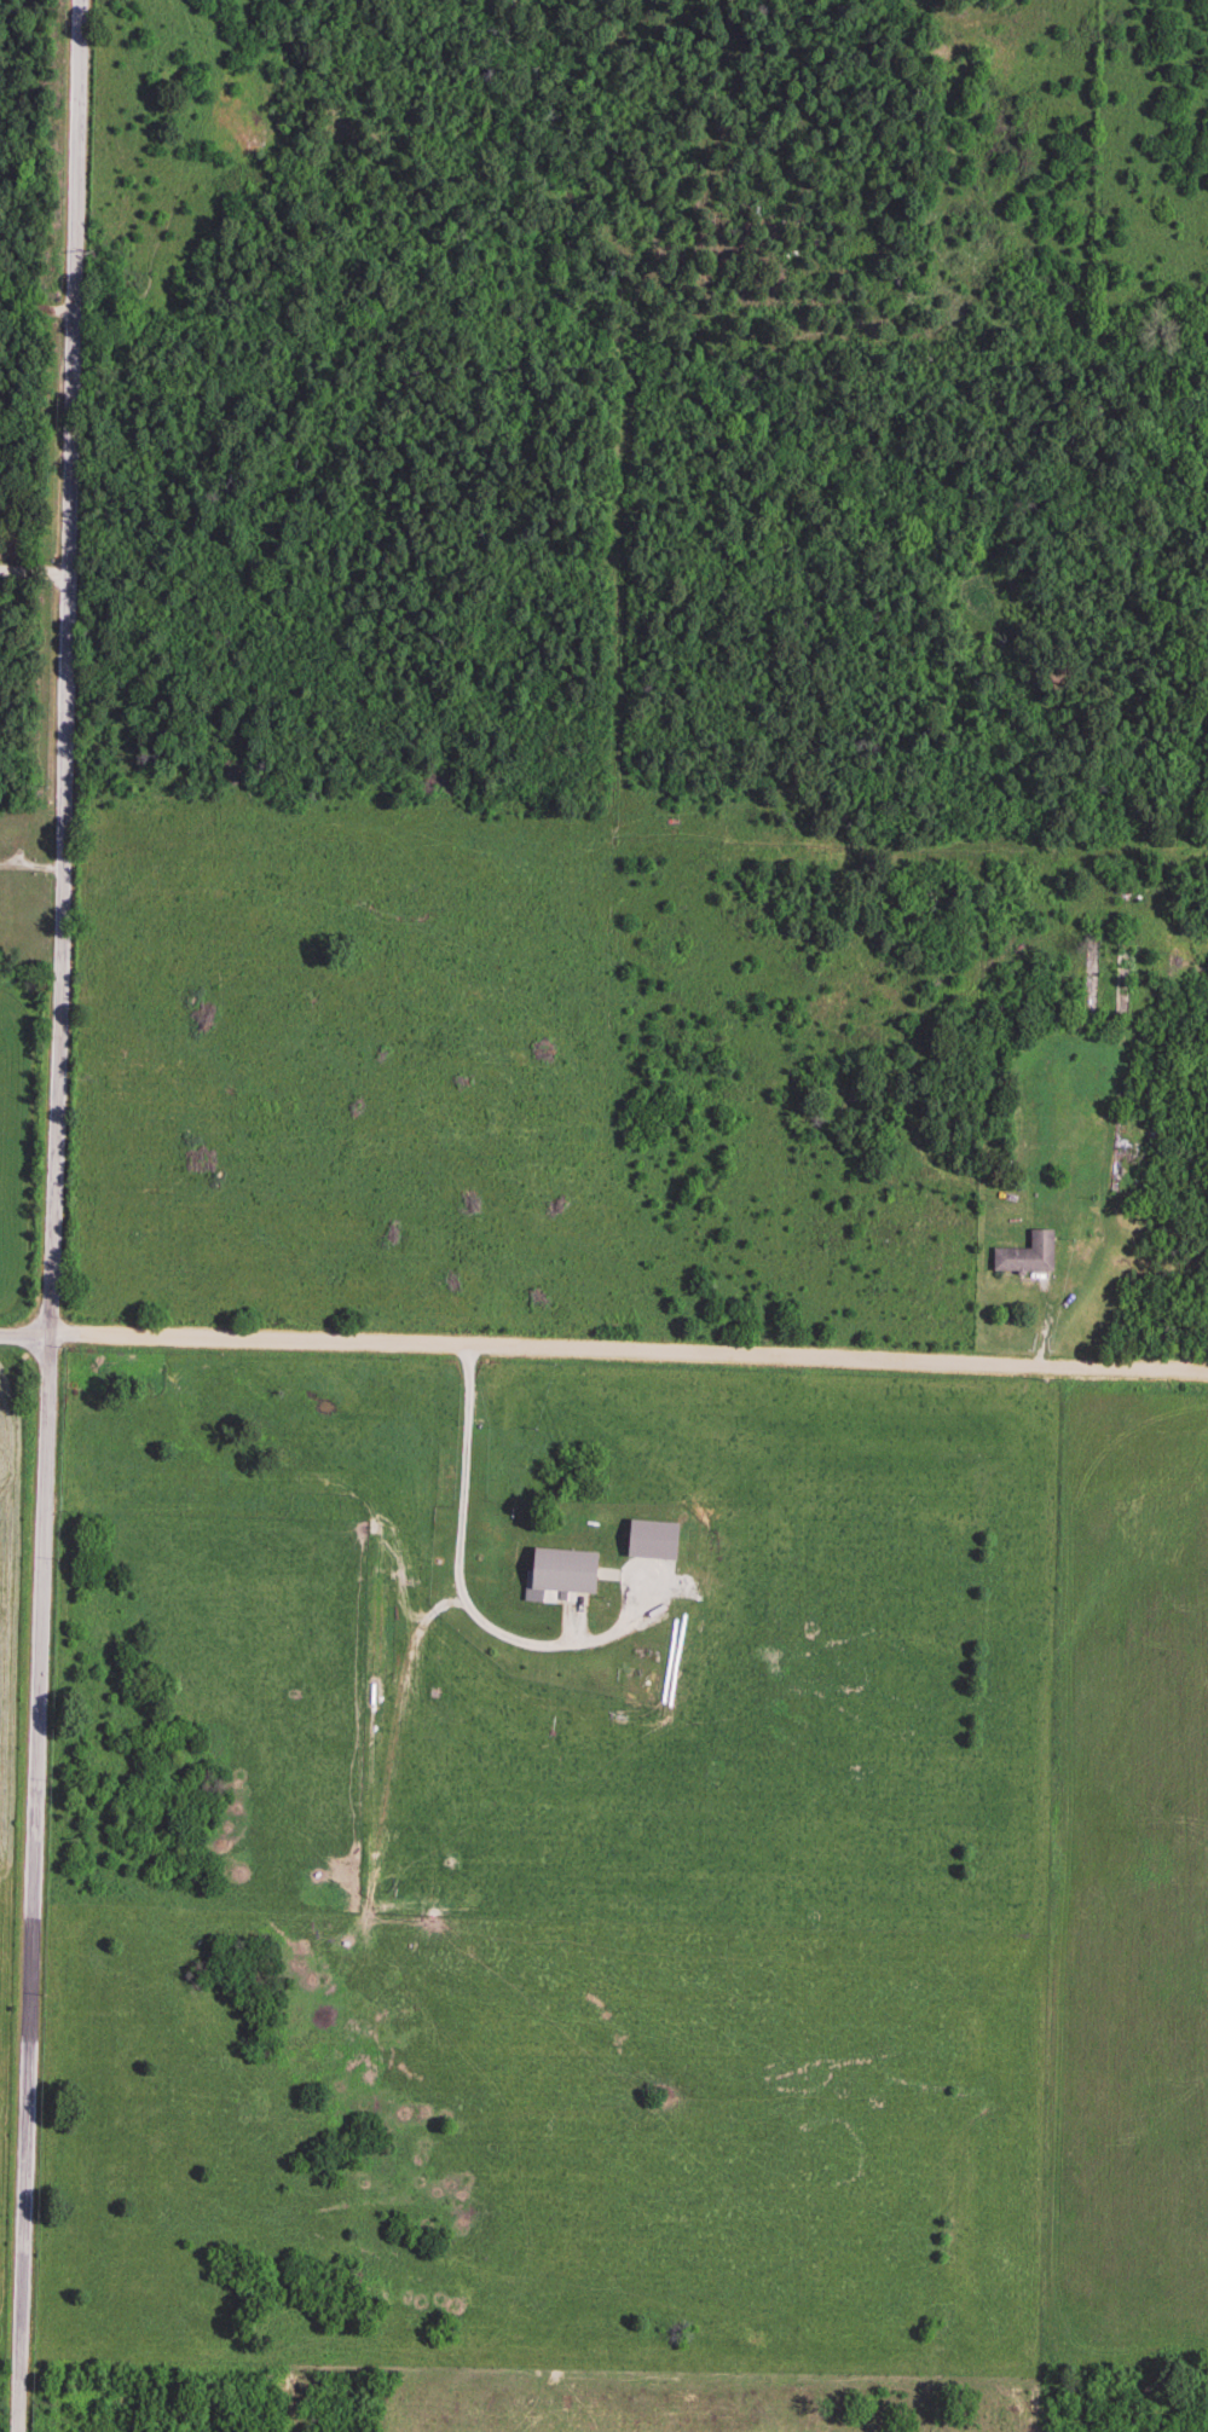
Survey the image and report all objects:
road: (40, 305)
road: (39, 568)
road: (58, 1216)
building: (1023, 1256)
road: (603, 1353)
road: (466, 1533)
building: (550, 1540)

